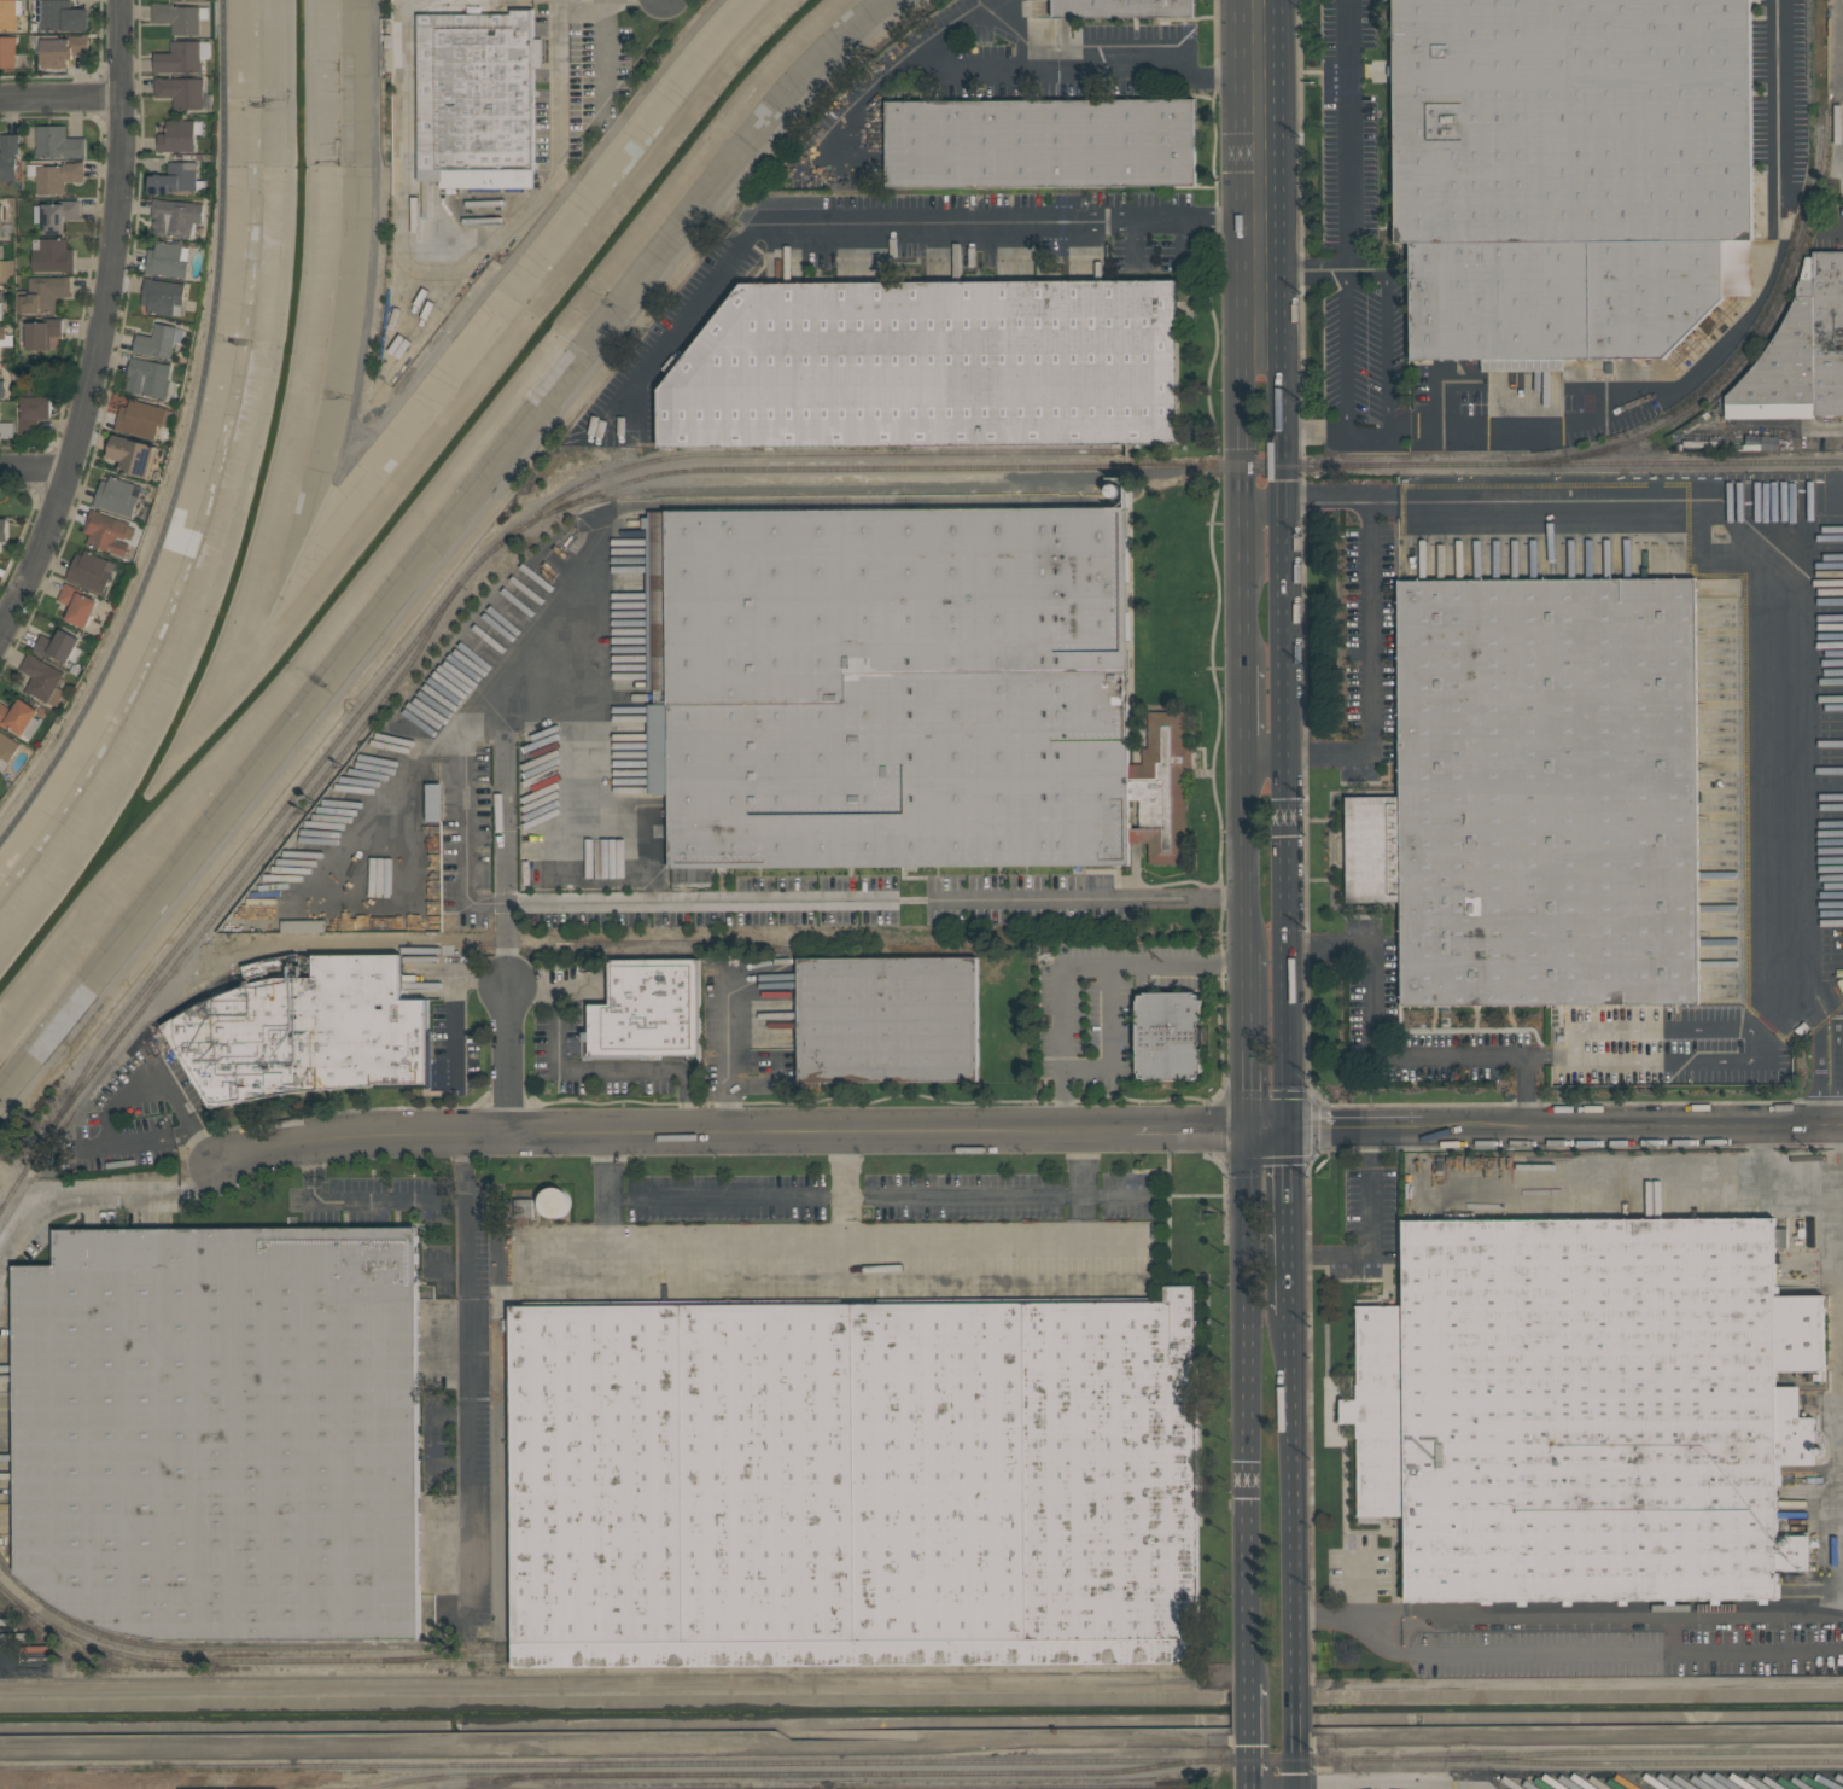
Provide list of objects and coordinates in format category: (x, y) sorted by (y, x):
building: (1122, 8)
building: (10, 13)
building: (63, 16)
building: (180, 17)
road: (607, 45)
building: (59, 48)
building: (7, 51)
building: (180, 58)
road: (1069, 71)
building: (181, 92)
road: (560, 94)
road: (60, 98)
building: (477, 98)
road: (1351, 134)
building: (179, 135)
building: (58, 142)
building: (1040, 144)
building: (8, 157)
building: (1570, 174)
building: (56, 176)
building: (177, 181)
building: (57, 215)
building: (176, 217)
road: (401, 217)
building: (1, 221)
road: (903, 226)
road: (1778, 228)
building: (52, 255)
building: (168, 260)
building: (4, 268)
road: (1319, 272)
road: (1260, 276)
building: (42, 295)
building: (162, 296)
building: (1, 311)
railway: (1775, 315)
road: (97, 324)
building: (2, 332)
road: (1236, 332)
building: (1827, 333)
building: (37, 334)
road: (1388, 340)
building: (159, 342)
road: (1345, 350)
building: (932, 366)
building: (1781, 367)
building: (23, 372)
building: (148, 378)
building: (31, 387)
building: (2, 390)
building: (34, 413)
building: (142, 418)
road: (1520, 429)
building: (7, 430)
road: (1337, 435)
road: (192, 443)
building: (133, 455)
railway: (806, 455)
road: (34, 468)
railway: (747, 468)
road: (1285, 470)
railway: (835, 491)
building: (117, 496)
road: (1734, 521)
building: (4, 530)
building: (106, 532)
building: (91, 571)
building: (77, 605)
building: (59, 647)
road: (1369, 668)
building: (43, 680)
building: (905, 689)
road: (1242, 707)
building: (19, 717)
road: (477, 723)
building: (6, 751)
road: (1266, 752)
road: (589, 754)
road: (463, 757)
building: (1540, 793)
railway: (309, 799)
road: (1244, 852)
building: (607, 880)
road: (696, 901)
road: (1089, 901)
road: (506, 917)
building: (303, 926)
road: (1077, 967)
building: (256, 969)
road: (447, 1001)
road: (1809, 1003)
building: (647, 1010)
road: (1755, 1018)
building: (888, 1019)
road: (1652, 1030)
building: (310, 1032)
road: (1370, 1032)
road: (727, 1033)
building: (1170, 1036)
road: (1110, 1037)
road: (1287, 1038)
road: (1247, 1043)
road: (1536, 1051)
road: (1557, 1051)
road: (1672, 1060)
railway: (104, 1061)
road: (589, 1070)
road: (1825, 1082)
road: (173, 1085)
road: (1524, 1091)
road: (110, 1121)
road: (183, 1127)
road: (733, 1131)
road: (1565, 1131)
traffic signals: (1247, 1135)
road: (1267, 1135)
traffic signals: (1288, 1135)
road: (204, 1140)
road: (1367, 1148)
road: (87, 1149)
road: (607, 1173)
road: (842, 1173)
road: (1083, 1173)
road: (1773, 1178)
road: (1668, 1179)
road: (845, 1191)
road: (1289, 1193)
road: (100, 1200)
road: (362, 1201)
building: (554, 1202)
railway: (2, 1207)
road: (1369, 1207)
building: (523, 1208)
road: (1083, 1225)
road: (607, 1228)
road: (1841, 1235)
road: (972, 1237)
road: (1325, 1252)
road: (1365, 1252)
road: (496, 1259)
road: (1290, 1276)
road: (465, 1340)
road: (1250, 1409)
building: (1586, 1409)
building: (222, 1432)
building: (855, 1484)
road: (1291, 1492)
railway: (1668, 1609)
road: (1604, 1618)
railway: (787, 1647)
railway: (244, 1648)
road: (1561, 1653)
railway: (585, 1659)
road: (1295, 1706)
road: (1254, 1707)
road: (1569, 1737)
road: (626, 1753)
railway: (1644, 1753)
road: (1255, 1756)
road: (1296, 1758)
railway: (1644, 1762)
railway: (723, 1764)
railway: (886, 1773)
railway: (459, 1777)
railway: (508, 1779)
road: (1277, 1784)
road: (1256, 1787)

